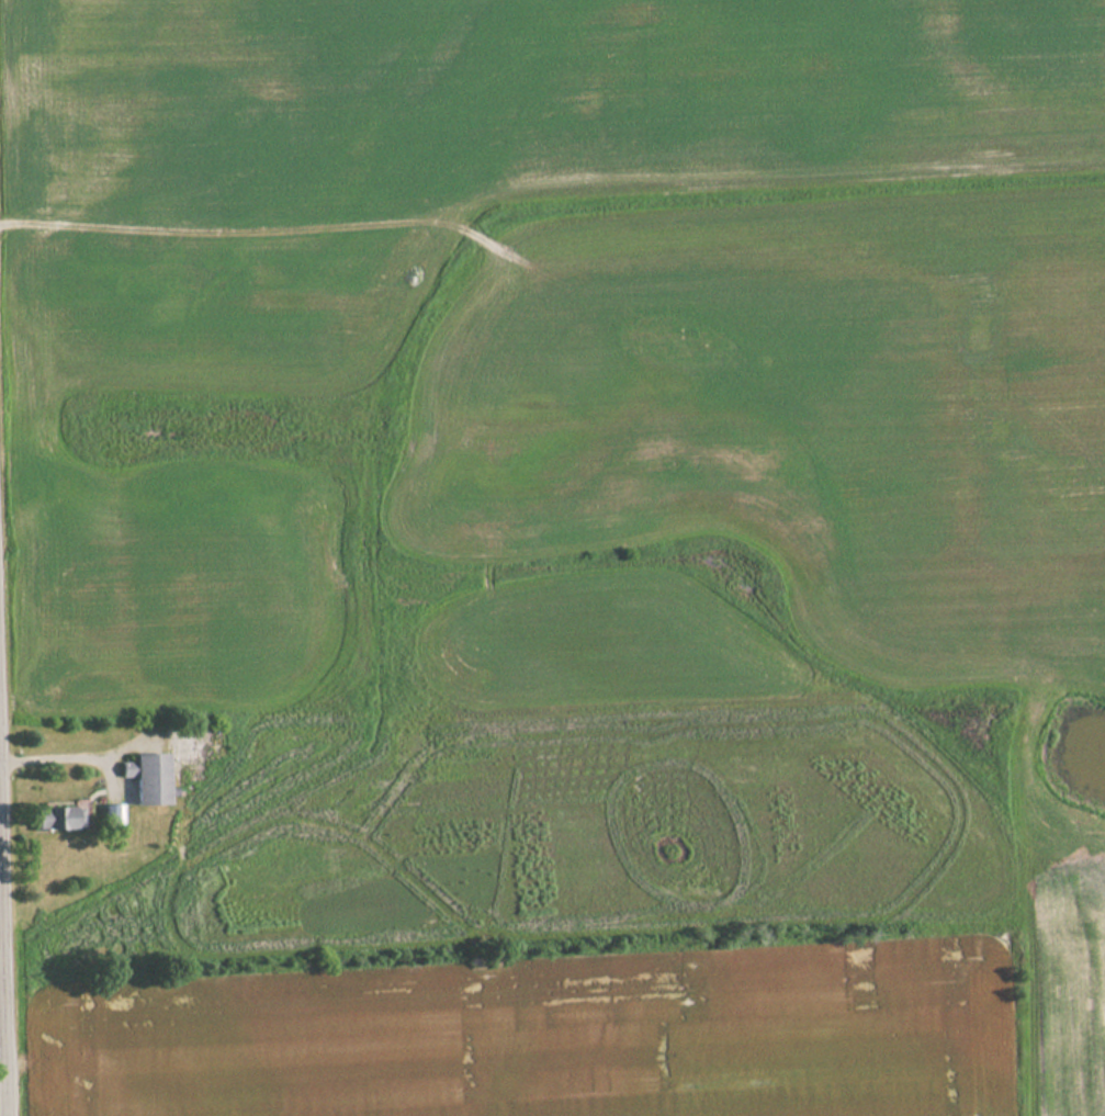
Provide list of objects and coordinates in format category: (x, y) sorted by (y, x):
building: (148, 777)
building: (57, 818)
road: (3, 974)

